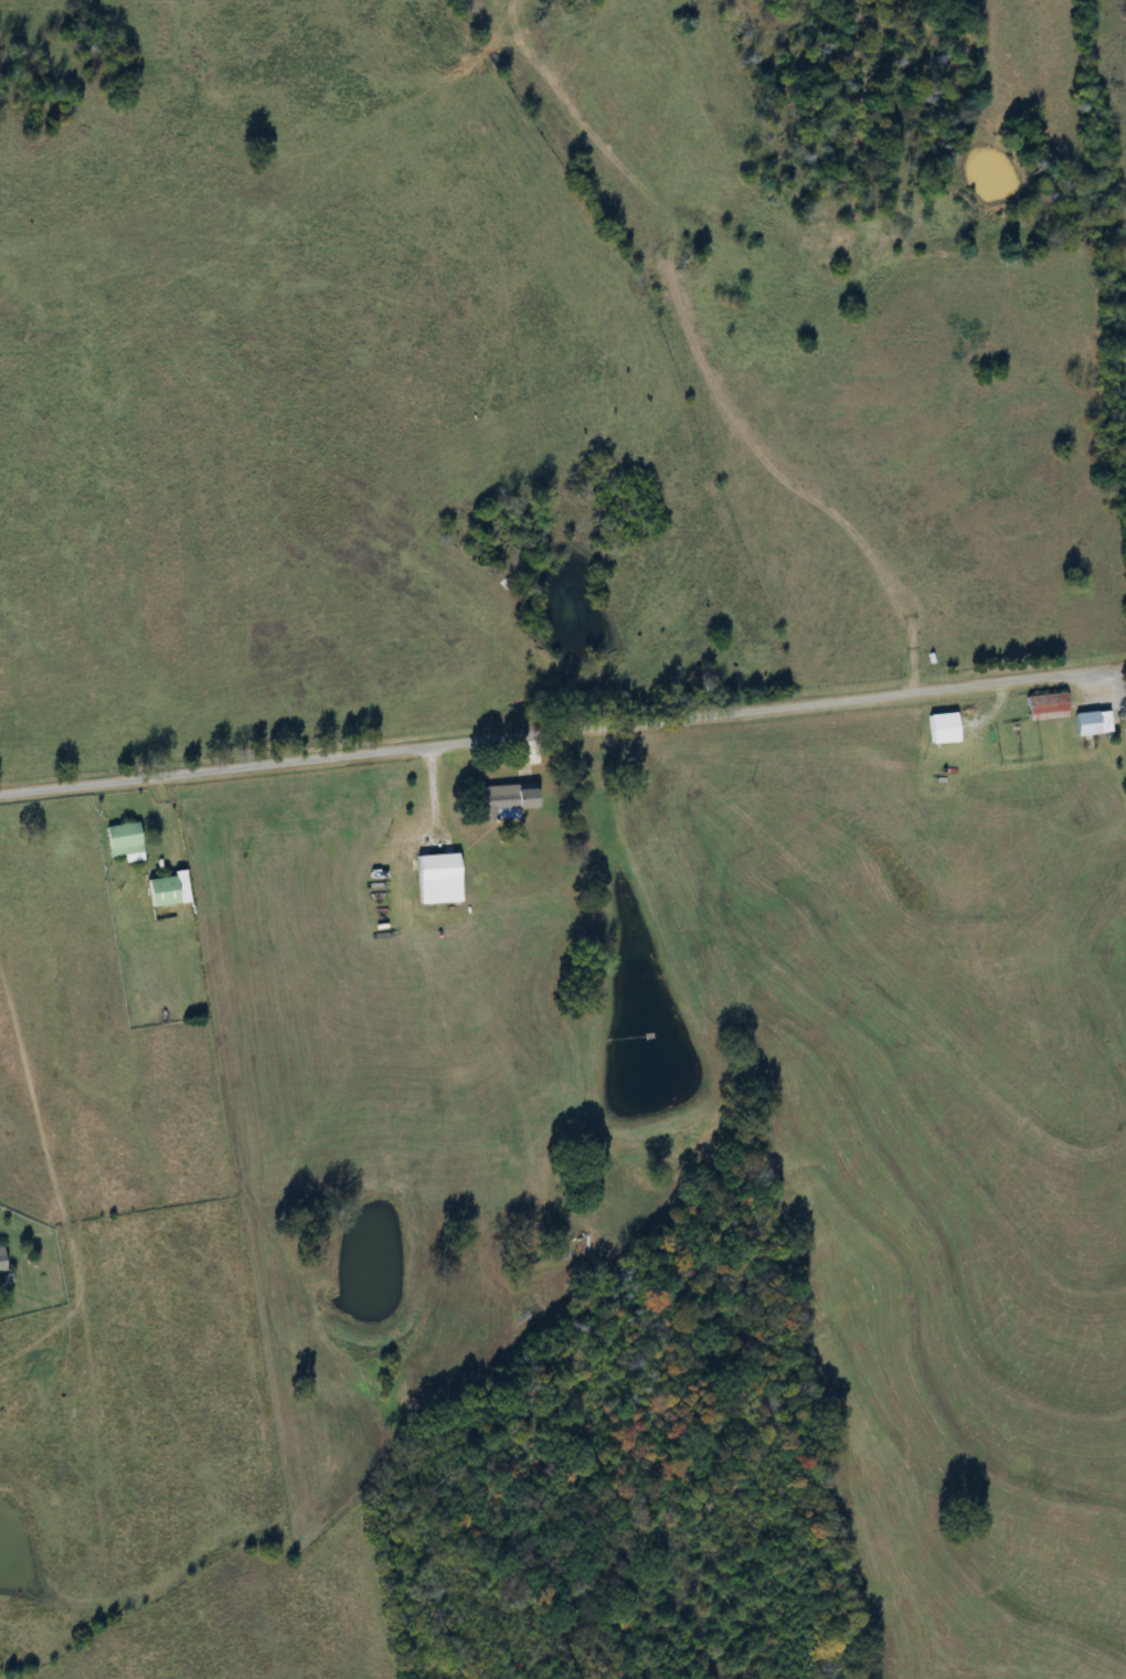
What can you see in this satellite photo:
road: (1118, 690)
building: (1042, 706)
building: (1087, 723)
building: (938, 729)
road: (553, 735)
building: (502, 800)
building: (120, 841)
building: (434, 879)
building: (163, 890)
building: (0, 1264)

